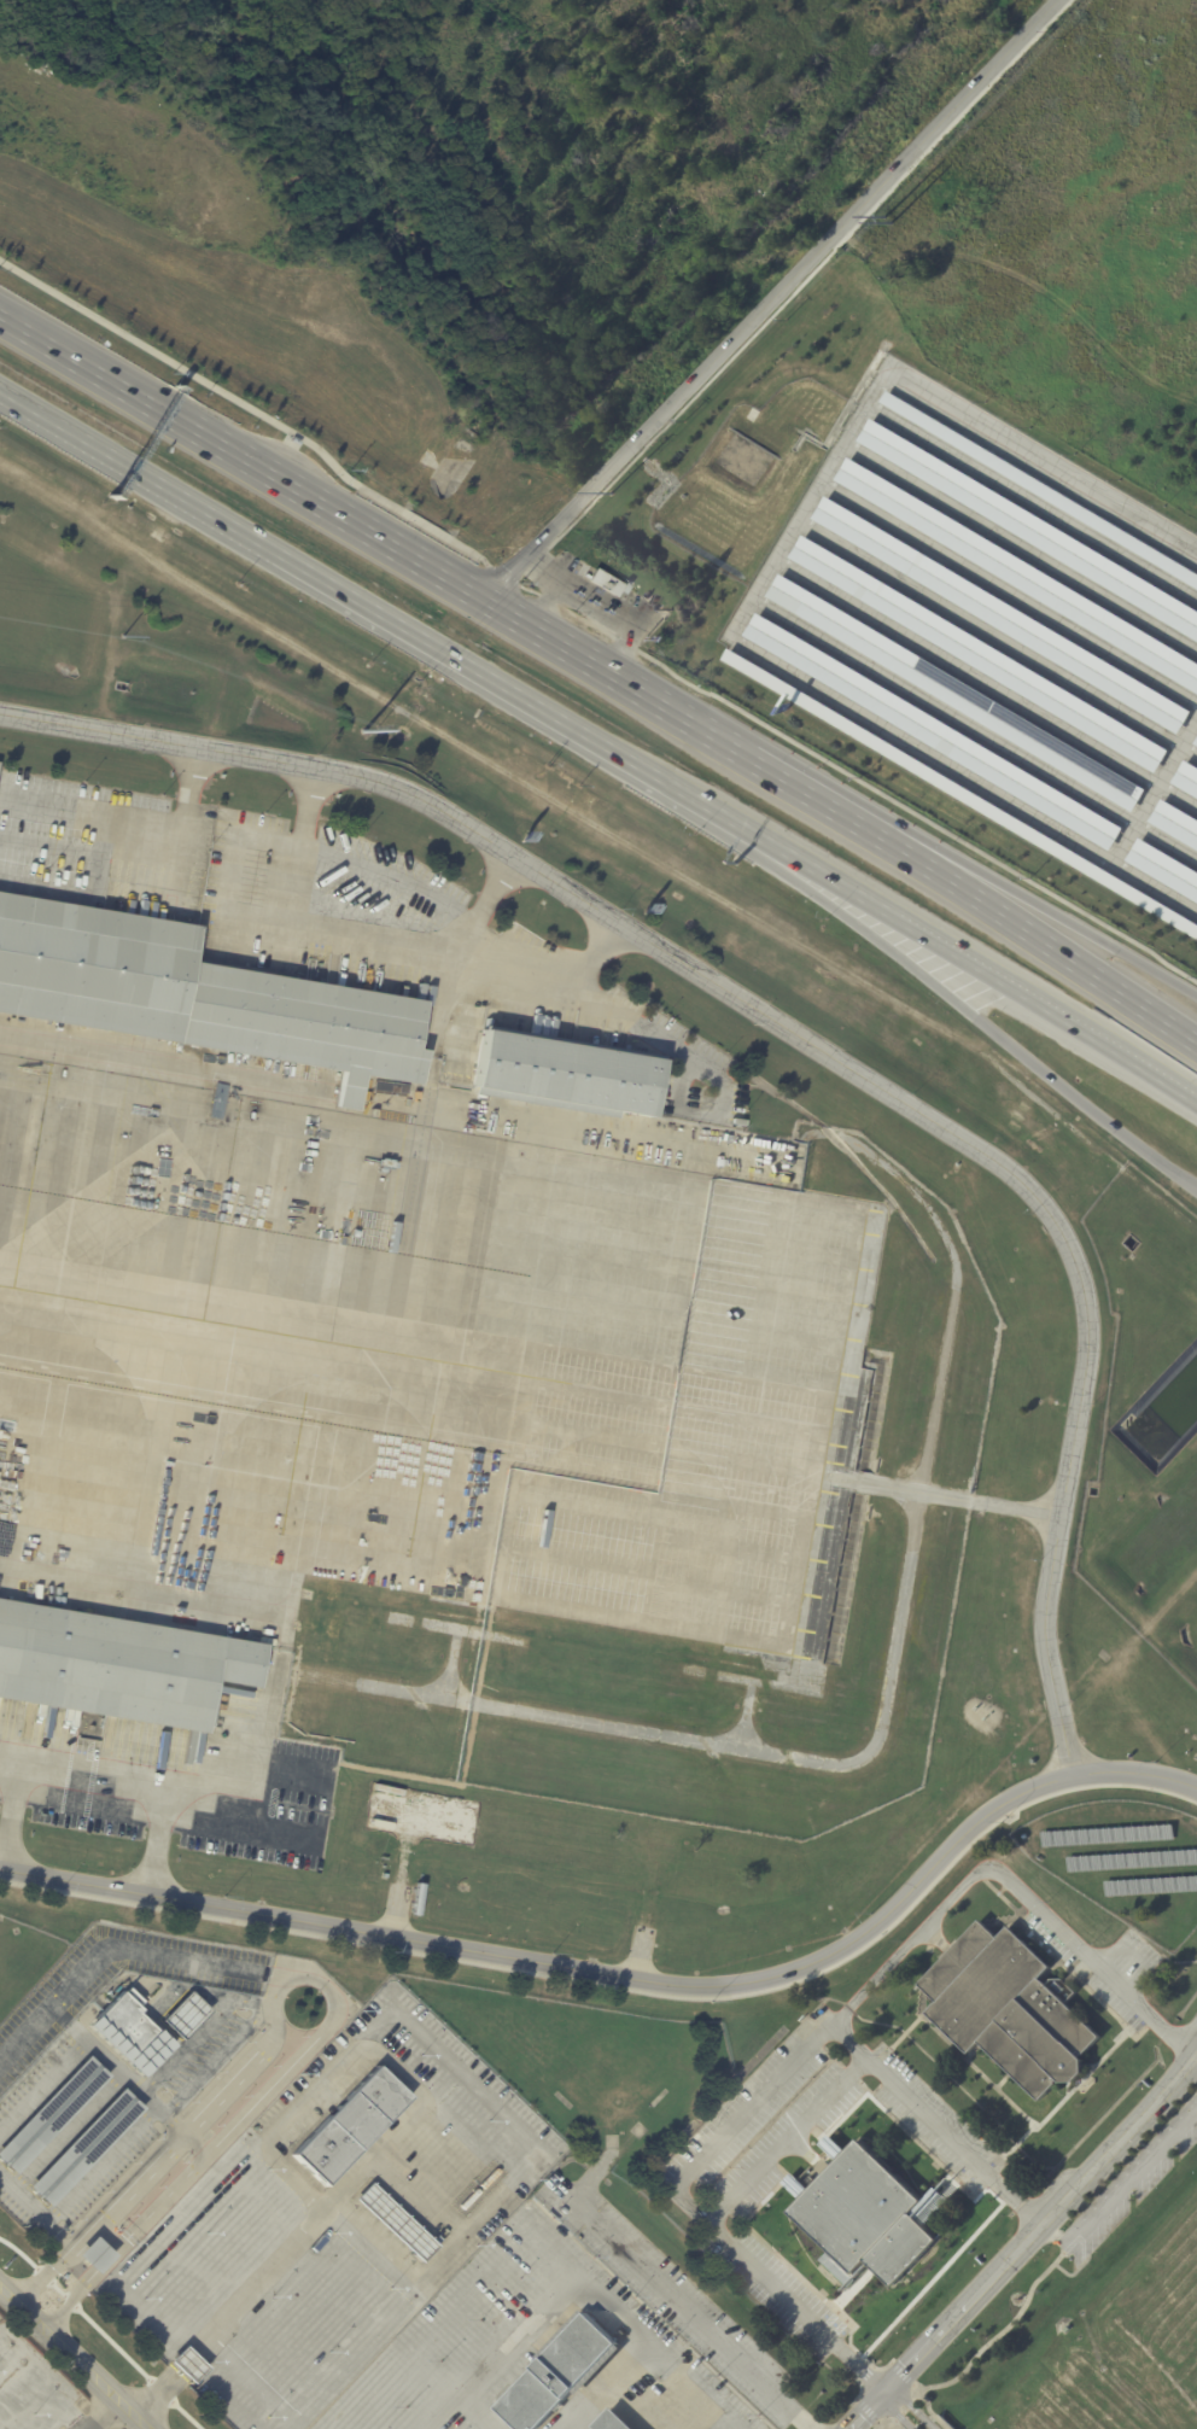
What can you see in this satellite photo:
power tower: (891, 224)
road: (763, 300)
road: (83, 368)
road: (257, 411)
road: (136, 473)
building: (1039, 487)
building: (1029, 527)
building: (1017, 572)
gas station: (602, 582)
road: (760, 585)
building: (624, 586)
road: (459, 589)
building: (1002, 614)
power tower: (121, 636)
building: (977, 653)
building: (953, 691)
road: (518, 696)
power tower: (373, 726)
building: (932, 731)
building: (1195, 741)
road: (852, 778)
building: (1186, 778)
building: (962, 793)
road: (818, 804)
building: (1174, 823)
road: (135, 829)
building: (1163, 868)
road: (393, 891)
road: (1046, 911)
road: (1043, 942)
road: (980, 970)
road: (557, 982)
building: (192, 993)
road: (975, 1018)
road: (650, 1029)
road: (804, 1037)
building: (560, 1073)
airport taxiway: (180, 1313)
airport apron: (419, 1355)
airport: (551, 1605)
building: (113, 1663)
road: (92, 1779)
road: (8, 1812)
road: (200, 1820)
road: (119, 1946)
road: (630, 1977)
road: (316, 1981)
building: (1059, 1987)
road: (633, 1990)
building: (1006, 2010)
building: (181, 2015)
building: (129, 2021)
road: (824, 2027)
road: (200, 2030)
road: (379, 2051)
road: (215, 2060)
road: (127, 2080)
road: (42, 2085)
building: (47, 2113)
road: (935, 2123)
building: (348, 2124)
road: (65, 2129)
building: (81, 2147)
road: (145, 2161)
road: (1129, 2173)
road: (77, 2185)
road: (175, 2186)
parking lot: (1135, 2194)
building: (863, 2215)
building: (392, 2221)
road: (49, 2234)
road: (104, 2234)
road: (1051, 2234)
road: (1080, 2238)
road: (1022, 2243)
building: (87, 2254)
road: (1069, 2275)
road: (670, 2291)
road: (580, 2294)
road: (101, 2332)
road: (982, 2347)
road: (76, 2355)
road: (186, 2361)
building: (188, 2363)
road: (431, 2366)
road: (882, 2367)
road: (901, 2372)
building: (556, 2373)
road: (865, 2373)
road: (253, 2382)
road: (917, 2387)
road: (860, 2390)
road: (158, 2393)
road: (917, 2398)
road: (912, 2406)
road: (866, 2410)
road: (904, 2410)
road: (894, 2411)
road: (100, 2412)
road: (477, 2412)
building: (611, 2421)
road: (887, 2421)
road: (893, 2421)
road: (878, 2422)

